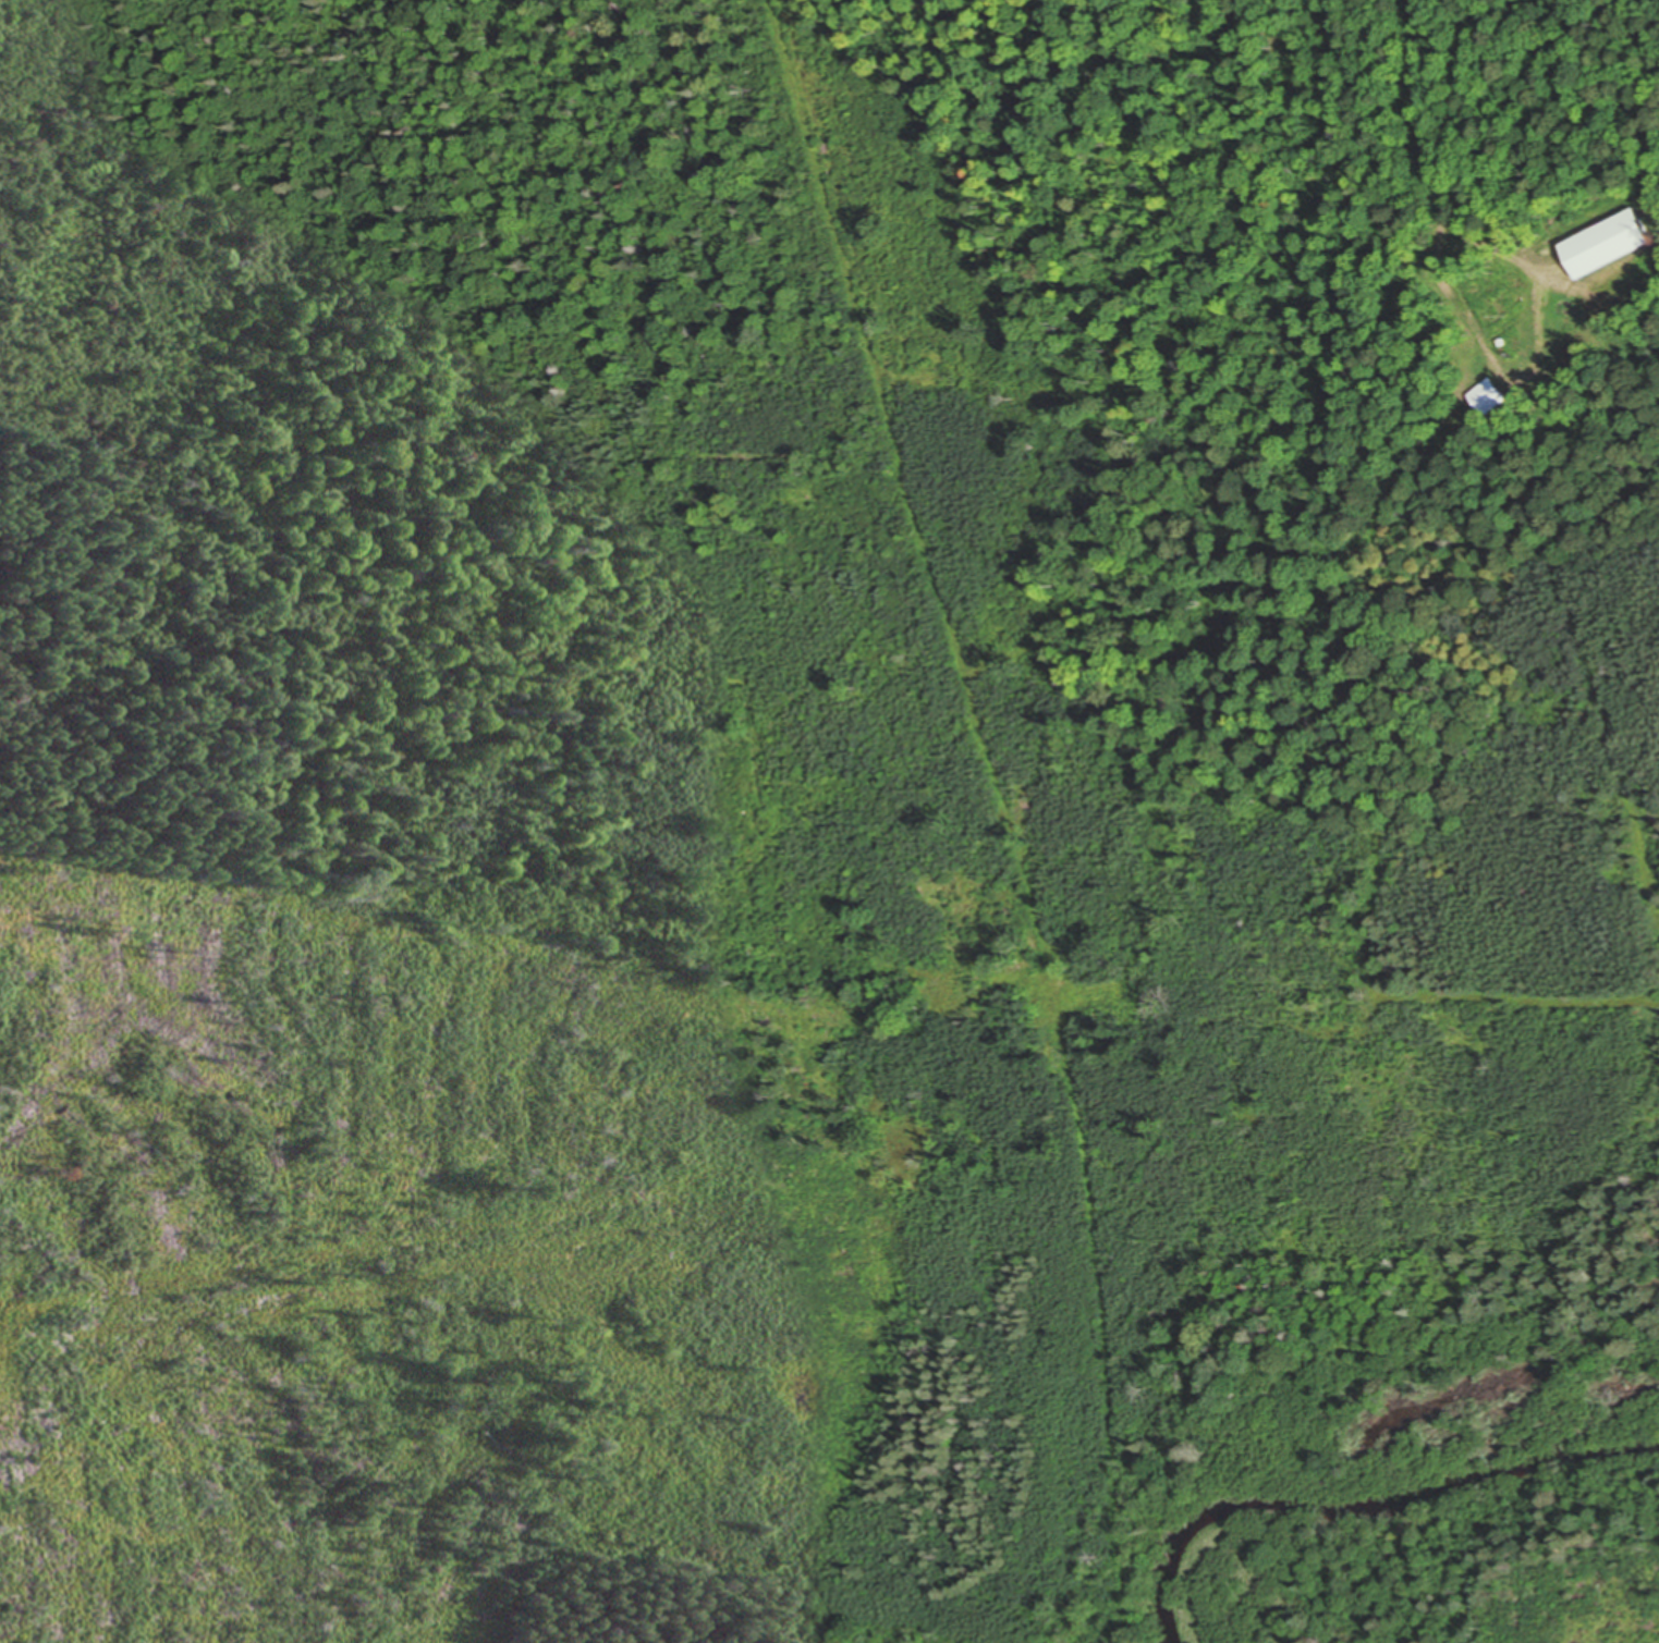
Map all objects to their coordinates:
building: (1612, 243)
road: (1450, 278)
building: (1492, 396)
river: (1384, 1515)

